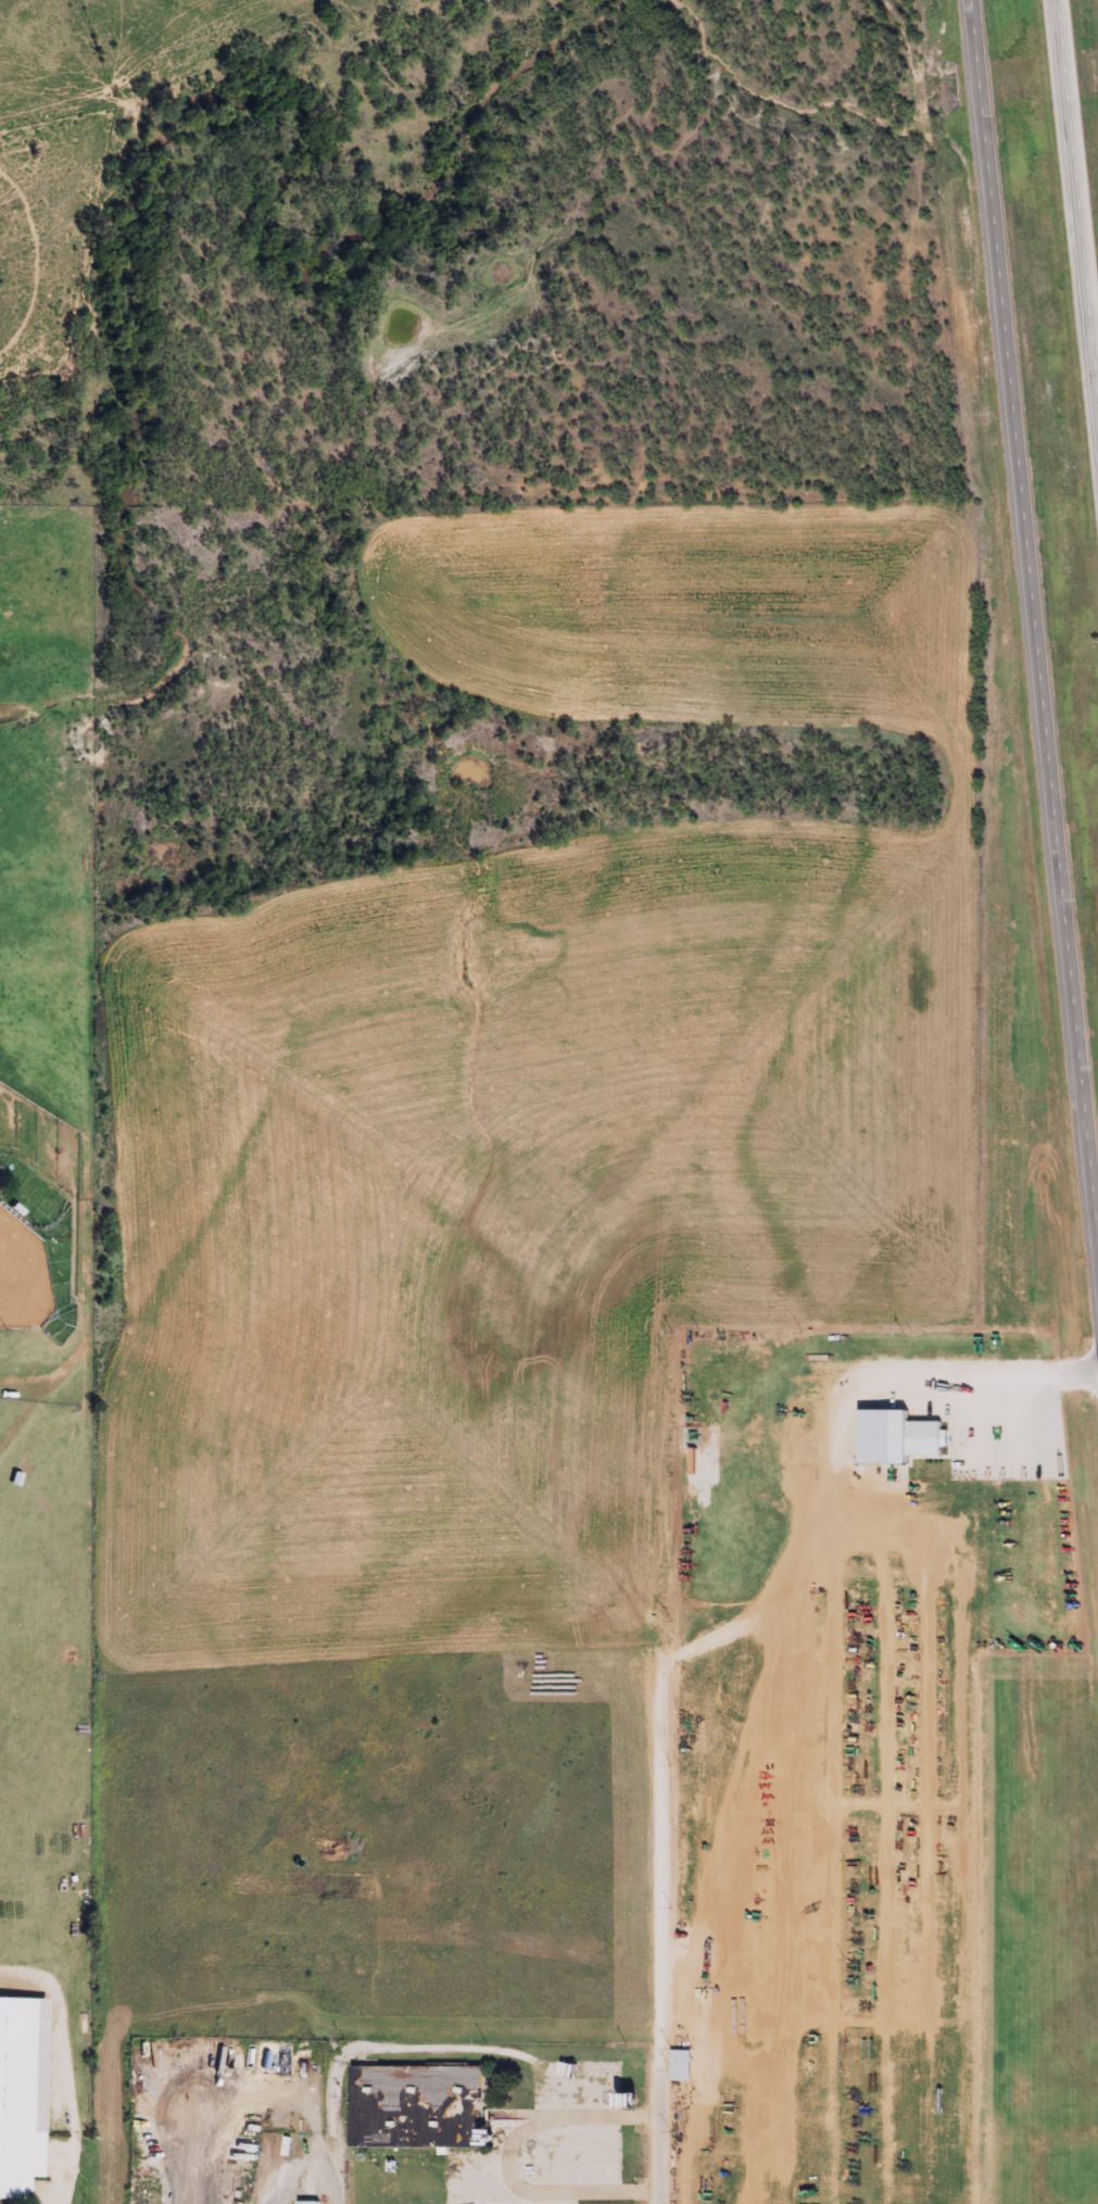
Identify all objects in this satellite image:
road: (1076, 207)
road: (1033, 631)
railway: (545, 833)
building: (896, 1436)
building: (23, 2094)
building: (432, 2104)
building: (303, 2202)

